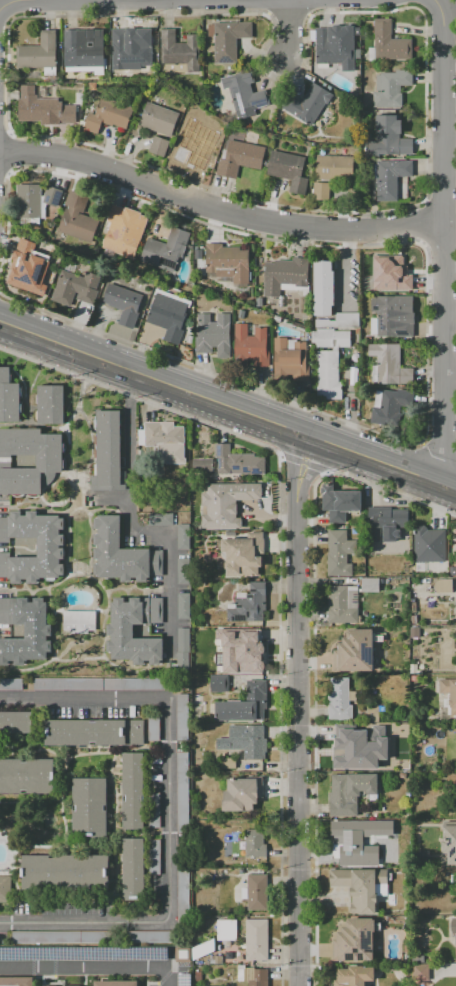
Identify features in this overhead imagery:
road: (146, 4)
road: (292, 33)
building: (231, 41)
building: (392, 44)
building: (337, 52)
building: (86, 53)
building: (182, 55)
building: (42, 56)
building: (132, 56)
building: (393, 90)
building: (247, 96)
building: (311, 106)
building: (47, 113)
building: (112, 117)
building: (161, 121)
building: (202, 135)
building: (391, 140)
building: (162, 148)
building: (184, 155)
building: (242, 160)
building: (337, 169)
building: (291, 172)
building: (392, 179)
building: (324, 193)
building: (37, 204)
road: (217, 207)
building: (80, 220)
building: (127, 233)
road: (441, 242)
building: (169, 252)
building: (230, 264)
building: (34, 270)
building: (394, 275)
building: (289, 278)
building: (76, 289)
building: (327, 290)
building: (126, 306)
building: (171, 318)
building: (395, 318)
building: (342, 323)
building: (216, 337)
building: (334, 340)
building: (254, 348)
building: (293, 362)
building: (391, 367)
road: (208, 371)
building: (330, 377)
building: (9, 397)
building: (51, 405)
building: (392, 408)
road: (227, 409)
building: (161, 435)
building: (108, 453)
road: (433, 460)
building: (49, 461)
building: (238, 461)
building: (203, 465)
road: (303, 466)
building: (333, 501)
building: (226, 504)
building: (353, 516)
building: (162, 519)
building: (386, 523)
road: (133, 529)
building: (184, 537)
building: (202, 538)
building: (455, 538)
building: (429, 545)
building: (48, 547)
building: (245, 553)
building: (340, 553)
building: (122, 554)
building: (184, 571)
road: (280, 571)
building: (455, 574)
building: (370, 585)
building: (443, 586)
building: (249, 604)
building: (343, 605)
building: (184, 606)
building: (413, 608)
building: (455, 609)
building: (413, 620)
building: (79, 621)
building: (120, 630)
building: (27, 631)
building: (414, 633)
building: (357, 650)
building: (183, 651)
building: (251, 655)
road: (314, 659)
building: (104, 684)
building: (219, 684)
building: (11, 685)
building: (453, 696)
building: (340, 700)
building: (244, 705)
road: (296, 712)
building: (372, 714)
building: (182, 717)
building: (16, 722)
building: (154, 729)
building: (94, 733)
building: (245, 741)
building: (360, 747)
building: (229, 763)
building: (27, 776)
building: (133, 791)
building: (350, 792)
building: (182, 793)
building: (242, 794)
building: (90, 808)
building: (154, 810)
road: (169, 810)
building: (342, 838)
building: (450, 841)
building: (255, 844)
building: (403, 854)
building: (423, 856)
building: (154, 857)
building: (134, 870)
building: (66, 873)
building: (183, 885)
building: (362, 887)
building: (5, 889)
building: (256, 892)
building: (454, 926)
building: (209, 928)
building: (227, 930)
building: (63, 937)
building: (150, 937)
building: (257, 940)
building: (356, 941)
building: (409, 949)
building: (206, 953)
building: (418, 959)
road: (90, 966)
building: (421, 972)
building: (253, 976)
building: (355, 976)
building: (16, 982)
building: (116, 983)

